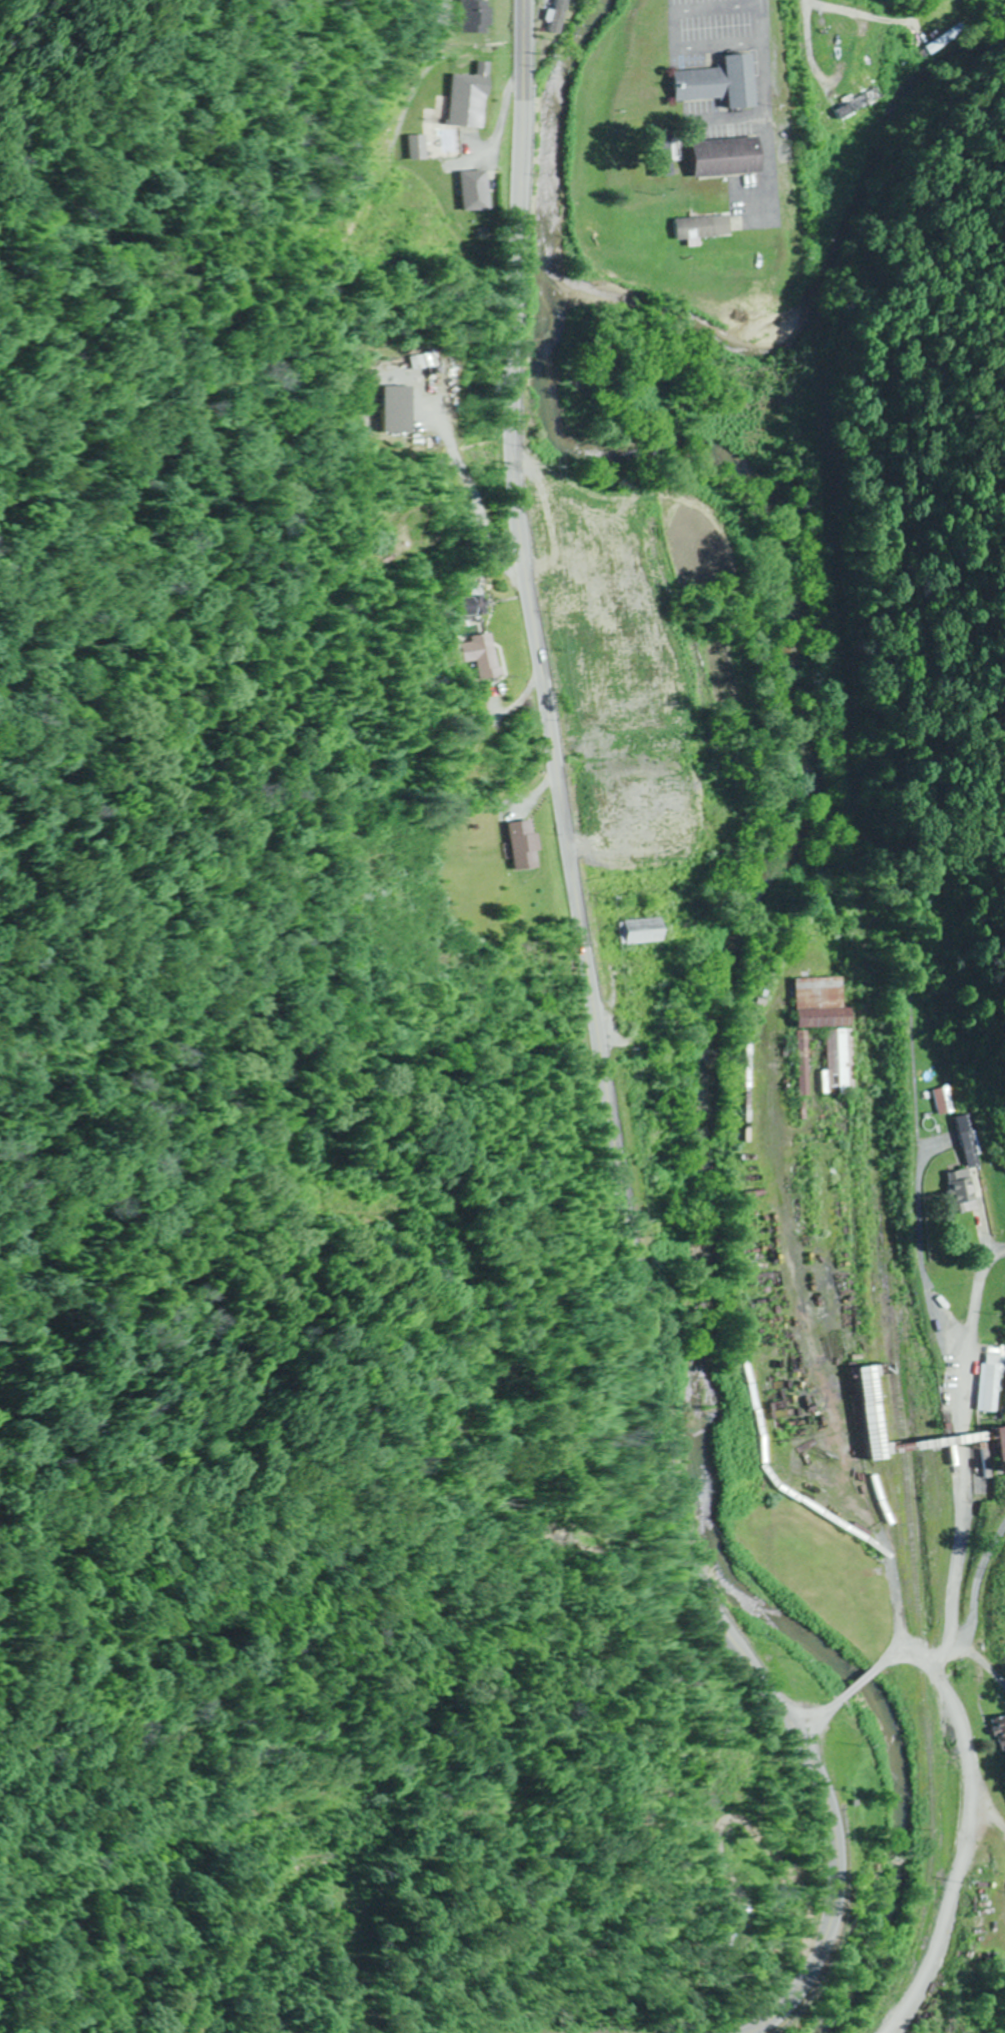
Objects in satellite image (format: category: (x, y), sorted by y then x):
building: (560, 16)
building: (485, 17)
road: (808, 26)
building: (848, 46)
building: (716, 84)
building: (480, 102)
building: (657, 155)
building: (724, 158)
building: (483, 192)
building: (700, 228)
building: (472, 606)
building: (555, 612)
building: (486, 656)
building: (527, 845)
building: (646, 931)
building: (818, 1018)
railway: (870, 1025)
road: (604, 1052)
building: (841, 1062)
building: (939, 1101)
building: (965, 1141)
building: (958, 1192)
road: (800, 1299)
building: (988, 1382)
building: (874, 1413)
building: (1000, 1437)
road: (862, 1685)
road: (822, 1716)
building: (1001, 1733)
road: (615, 1771)
road: (968, 1825)

